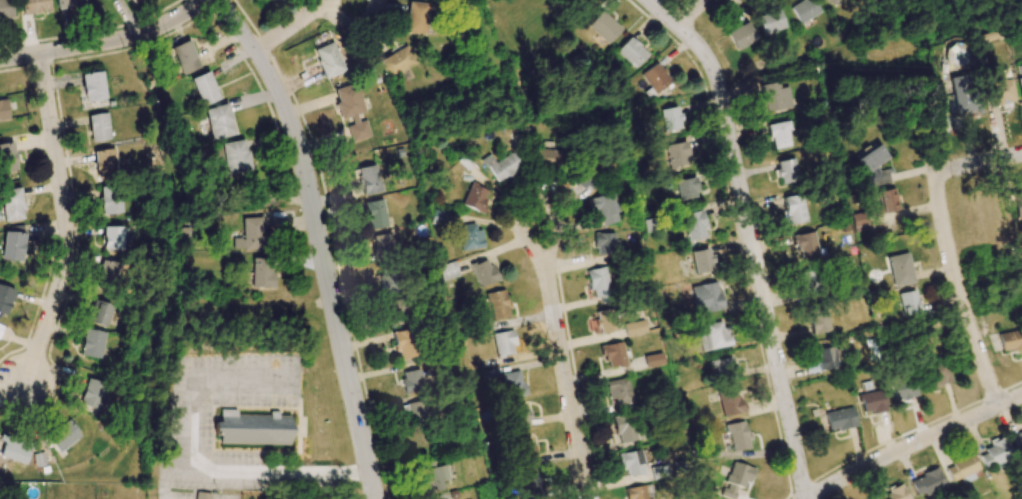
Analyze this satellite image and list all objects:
building: (133, 1)
building: (830, 1)
building: (68, 3)
building: (34, 6)
building: (5, 9)
building: (804, 10)
road: (690, 11)
building: (416, 17)
building: (770, 21)
road: (298, 22)
building: (603, 27)
building: (741, 35)
road: (106, 42)
building: (631, 52)
building: (185, 57)
building: (327, 59)
building: (396, 61)
building: (655, 77)
building: (93, 86)
building: (1019, 86)
building: (204, 88)
building: (999, 91)
building: (964, 94)
building: (775, 97)
building: (3, 110)
building: (351, 110)
building: (671, 119)
building: (219, 121)
building: (98, 127)
building: (780, 134)
building: (677, 154)
building: (235, 156)
building: (7, 157)
building: (546, 158)
building: (105, 162)
road: (978, 162)
building: (501, 166)
building: (872, 166)
building: (787, 170)
building: (368, 179)
building: (584, 179)
building: (686, 188)
building: (475, 197)
building: (887, 200)
building: (111, 202)
building: (12, 204)
building: (1017, 204)
building: (602, 208)
building: (794, 208)
building: (375, 214)
building: (440, 218)
road: (66, 221)
building: (694, 225)
building: (249, 234)
building: (469, 236)
building: (114, 238)
road: (751, 238)
road: (319, 241)
building: (13, 242)
building: (604, 242)
building: (381, 244)
building: (804, 246)
building: (701, 260)
building: (899, 269)
building: (448, 270)
building: (110, 272)
building: (262, 272)
building: (483, 272)
building: (809, 279)
building: (598, 282)
building: (388, 283)
road: (958, 291)
building: (706, 297)
building: (5, 298)
building: (907, 302)
building: (497, 304)
building: (394, 312)
building: (99, 313)
building: (606, 320)
building: (819, 323)
building: (634, 327)
building: (0, 329)
building: (712, 335)
building: (1011, 340)
building: (92, 343)
building: (402, 343)
building: (504, 343)
building: (613, 354)
building: (824, 359)
building: (653, 360)
road: (563, 366)
building: (722, 366)
building: (939, 373)
building: (410, 380)
building: (513, 381)
building: (903, 390)
building: (619, 391)
building: (93, 393)
building: (872, 401)
building: (731, 403)
building: (413, 414)
building: (519, 416)
building: (839, 418)
building: (252, 428)
building: (624, 428)
building: (738, 435)
building: (63, 436)
building: (1016, 440)
road: (913, 444)
building: (14, 450)
building: (525, 451)
building: (996, 453)
building: (40, 459)
building: (631, 462)
road: (184, 465)
building: (960, 467)
building: (431, 475)
building: (736, 479)
building: (926, 482)
building: (528, 488)
building: (635, 492)
building: (894, 493)
building: (201, 495)

